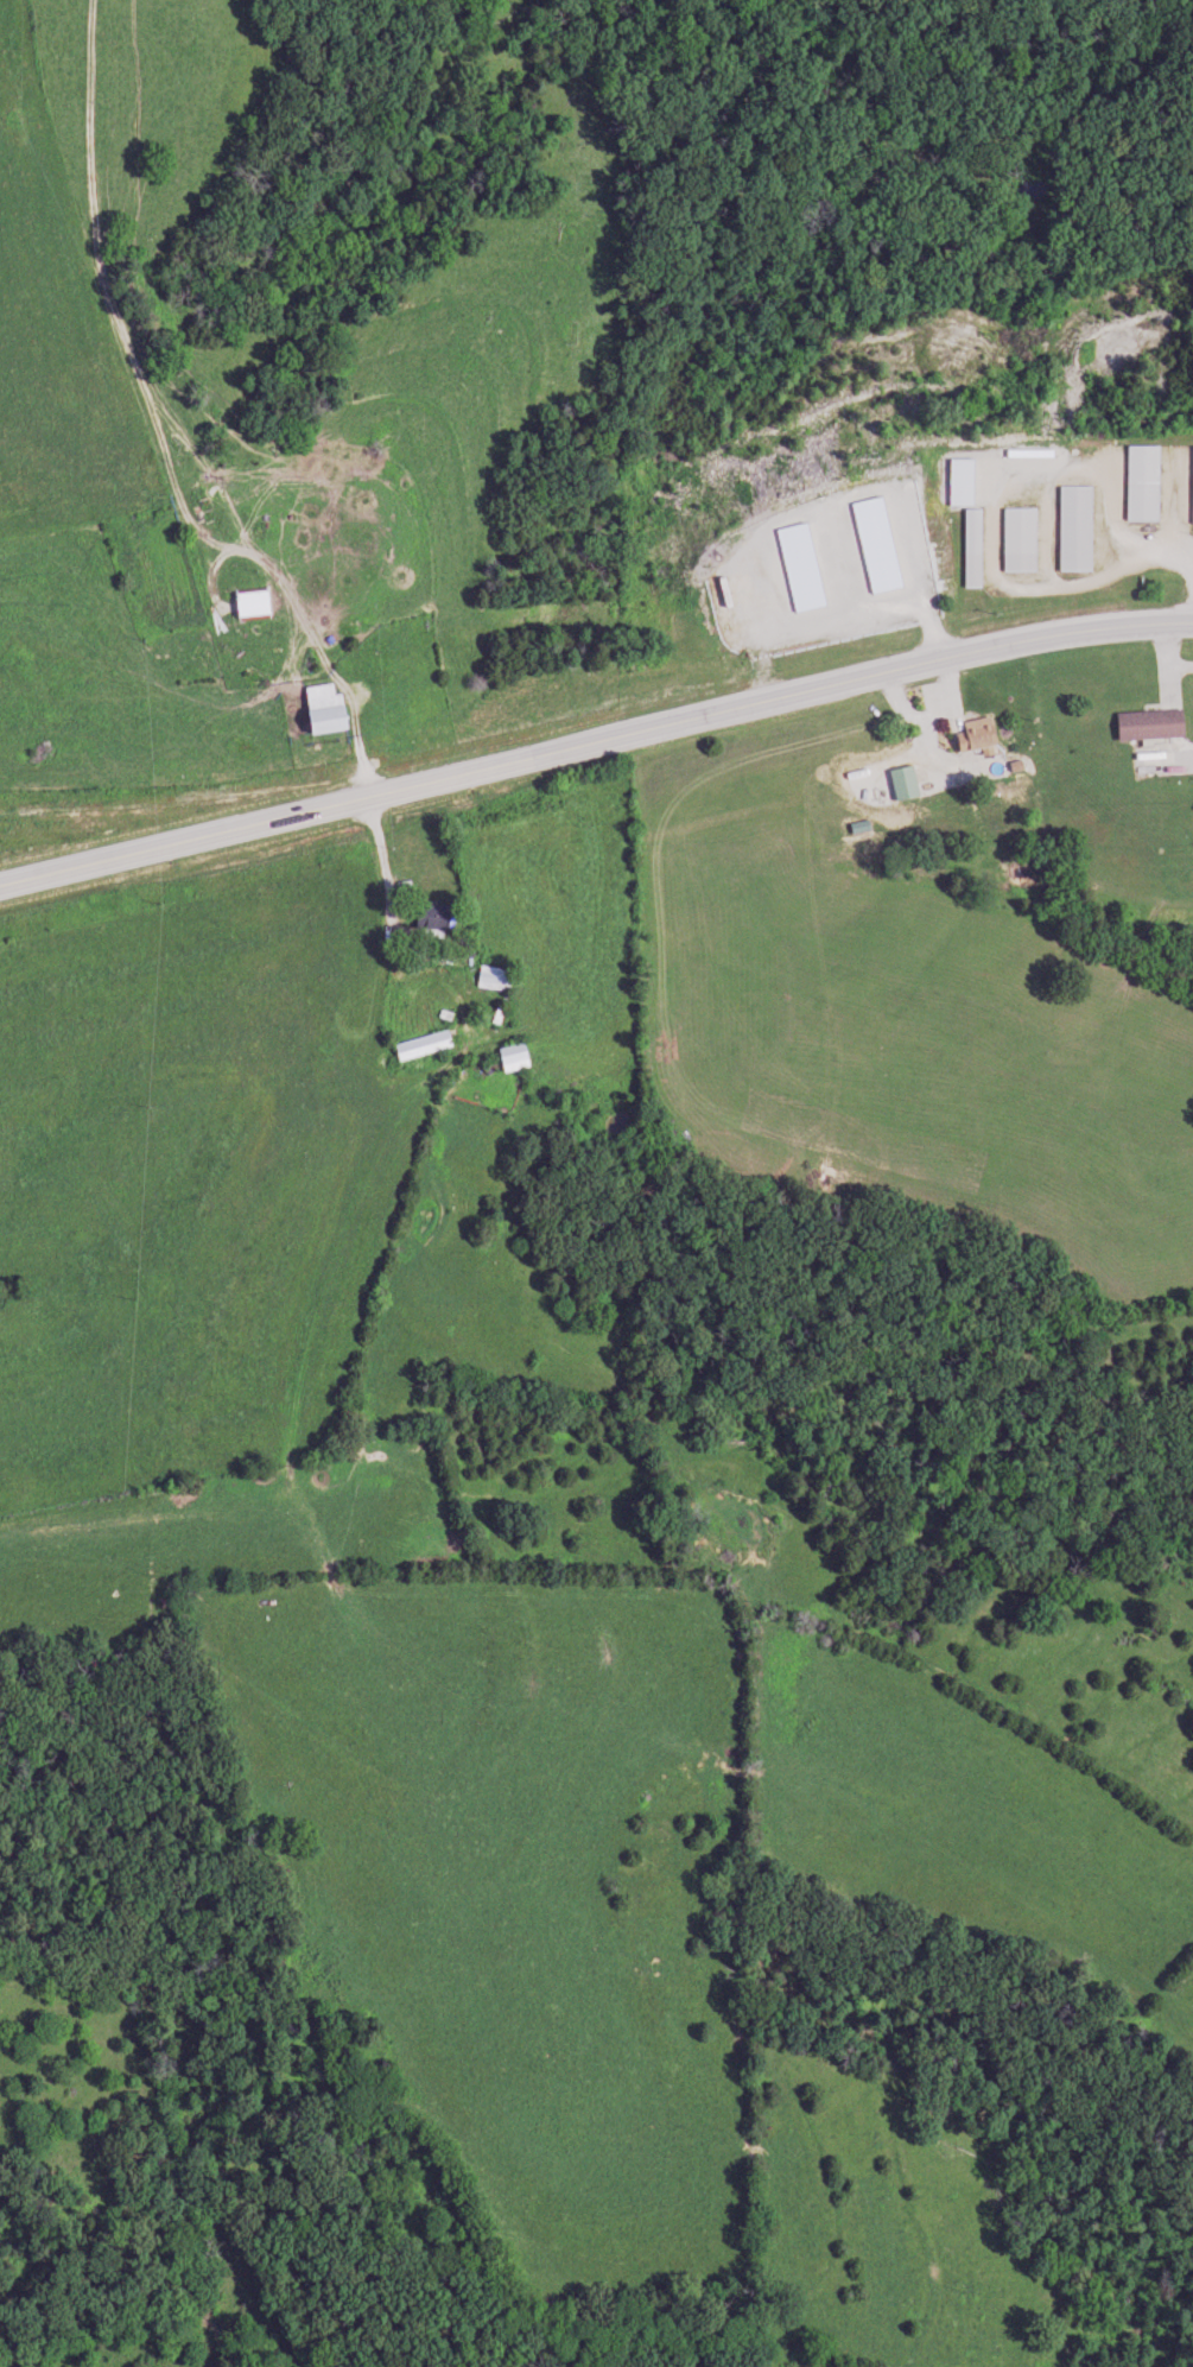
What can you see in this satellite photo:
building: (1140, 483)
building: (1191, 485)
building: (1072, 529)
building: (1016, 540)
building: (970, 548)
building: (249, 603)
building: (318, 710)
building: (1143, 724)
road: (594, 736)
building: (969, 736)
building: (360, 757)
building: (900, 781)
building: (856, 827)
building: (426, 925)
building: (490, 977)
building: (418, 1045)
building: (509, 1057)

